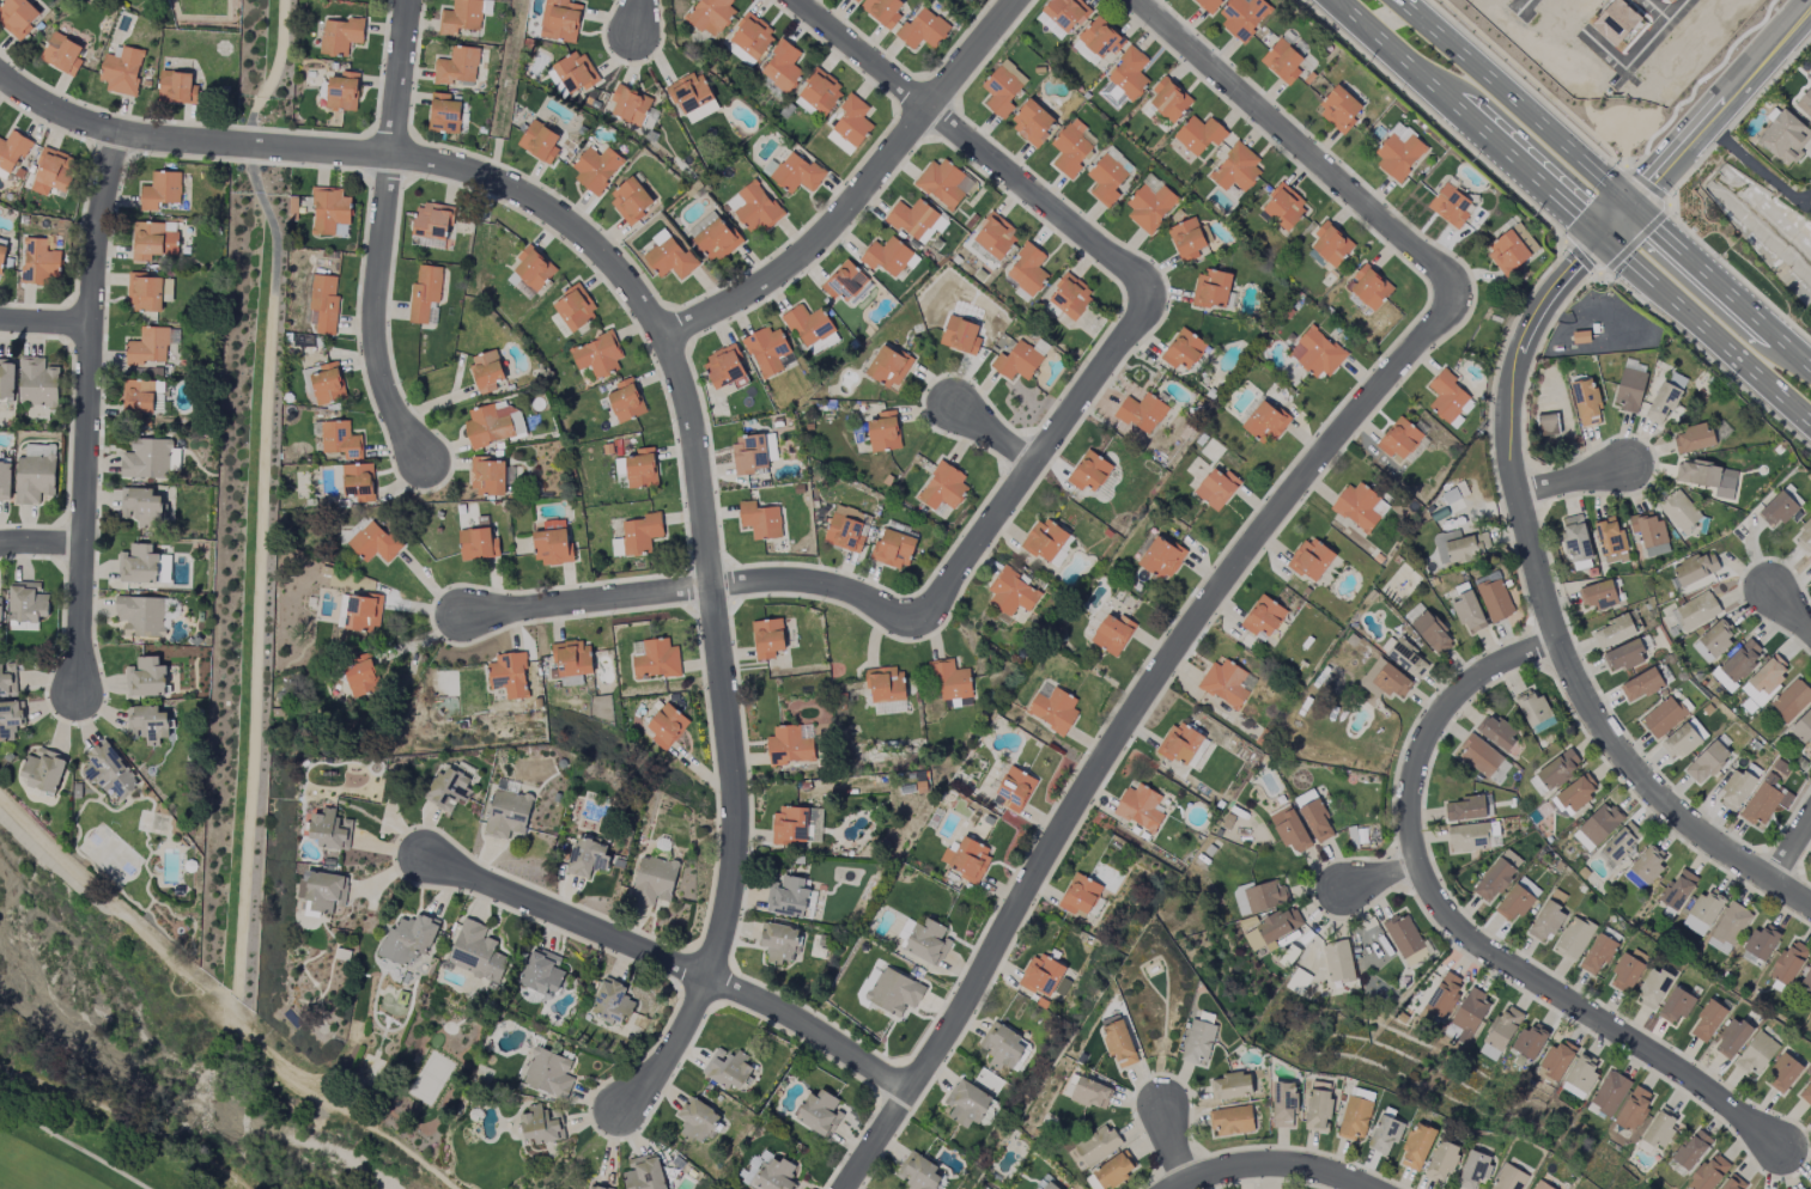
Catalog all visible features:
building: (858, 0)
building: (1208, 5)
building: (883, 11)
building: (1065, 13)
road: (639, 14)
building: (711, 16)
building: (1242, 16)
building: (18, 17)
building: (460, 17)
road: (1664, 19)
building: (560, 20)
building: (922, 30)
building: (340, 36)
building: (752, 36)
building: (1100, 38)
road: (1643, 44)
building: (62, 54)
building: (1282, 62)
building: (456, 66)
building: (782, 66)
road: (512, 68)
building: (122, 71)
building: (575, 73)
building: (1129, 74)
road: (1518, 80)
building: (177, 87)
building: (342, 91)
building: (820, 92)
building: (1002, 92)
building: (689, 93)
building: (1169, 98)
road: (1514, 102)
building: (1805, 102)
building: (630, 105)
building: (1339, 108)
building: (444, 114)
road: (1429, 114)
road: (1467, 118)
building: (852, 121)
building: (1034, 122)
road: (1706, 122)
building: (1400, 132)
building: (1199, 135)
building: (1785, 138)
building: (539, 142)
building: (840, 142)
road: (972, 147)
building: (12, 150)
building: (1071, 151)
building: (1398, 156)
road: (498, 159)
road: (1639, 165)
building: (596, 167)
road: (1757, 169)
building: (1236, 170)
building: (53, 172)
building: (797, 173)
building: (1107, 179)
building: (942, 182)
road: (1647, 184)
building: (160, 190)
road: (859, 193)
building: (631, 200)
building: (1450, 205)
building: (1150, 206)
traffic signals: (1631, 206)
building: (756, 207)
building: (1284, 208)
building: (329, 211)
building: (914, 218)
road: (1670, 218)
building: (432, 221)
park: (1751, 221)
road: (379, 234)
building: (997, 234)
traffic signals: (1602, 238)
building: (152, 240)
building: (717, 240)
building: (1187, 240)
building: (427, 243)
building: (1331, 244)
road: (1637, 245)
building: (1512, 249)
building: (1, 254)
building: (889, 256)
building: (670, 258)
building: (38, 261)
road: (1562, 261)
road: (1582, 261)
building: (533, 269)
building: (1028, 269)
road: (1617, 278)
building: (844, 281)
road: (1744, 281)
building: (521, 286)
road: (1720, 286)
building: (1213, 287)
building: (1369, 287)
building: (148, 292)
building: (424, 292)
building: (1072, 295)
building: (324, 303)
building: (575, 309)
road: (44, 323)
building: (809, 324)
road: (1706, 329)
building: (962, 335)
building: (147, 347)
building: (767, 349)
building: (1184, 349)
building: (1318, 353)
road: (1520, 353)
building: (597, 355)
building: (1019, 361)
road: (1535, 362)
building: (725, 365)
road: (1716, 365)
building: (891, 366)
road: (675, 367)
building: (486, 371)
building: (6, 378)
building: (1677, 380)
building: (37, 383)
building: (327, 384)
building: (1629, 390)
building: (1447, 396)
building: (138, 397)
building: (625, 401)
building: (1663, 402)
road: (429, 406)
road: (87, 411)
building: (1142, 413)
building: (1266, 421)
building: (493, 425)
building: (1548, 425)
building: (886, 432)
road: (998, 432)
road: (1491, 433)
building: (340, 439)
building: (1693, 439)
building: (1399, 440)
building: (771, 447)
building: (750, 453)
road: (1654, 458)
building: (146, 459)
building: (174, 459)
building: (642, 468)
building: (1090, 471)
road: (1539, 475)
building: (487, 476)
building: (1708, 477)
building: (35, 478)
building: (5, 481)
road: (1569, 481)
building: (358, 482)
road: (265, 483)
building: (946, 486)
building: (1217, 487)
road: (1537, 488)
park: (248, 496)
building: (140, 506)
building: (1359, 506)
building: (1777, 510)
building: (1679, 511)
building: (762, 519)
road: (1538, 523)
building: (846, 532)
building: (642, 533)
building: (1649, 533)
building: (1804, 536)
building: (1575, 538)
building: (1609, 538)
building: (1045, 539)
building: (373, 542)
road: (1253, 542)
road: (41, 543)
building: (478, 544)
building: (551, 547)
building: (616, 547)
building: (1460, 547)
building: (894, 548)
building: (1163, 557)
building: (1810, 557)
building: (1312, 559)
building: (138, 565)
building: (164, 567)
building: (1696, 568)
road: (1742, 583)
building: (1013, 592)
building: (1597, 594)
building: (1495, 599)
building: (28, 603)
road: (889, 606)
building: (359, 611)
building: (1696, 611)
building: (1414, 612)
building: (1469, 612)
building: (140, 615)
road: (1791, 615)
building: (0, 616)
building: (1263, 617)
road: (1549, 621)
road: (1536, 623)
building: (1612, 632)
building: (1114, 633)
building: (1433, 633)
building: (768, 638)
building: (1713, 642)
road: (1535, 647)
building: (1624, 656)
building: (1406, 658)
building: (571, 659)
building: (656, 659)
road: (1566, 660)
building: (1742, 660)
building: (509, 675)
building: (360, 676)
road: (1557, 677)
building: (146, 678)
building: (7, 679)
building: (952, 679)
building: (1722, 679)
building: (571, 681)
building: (1385, 681)
building: (1764, 681)
building: (1224, 683)
building: (887, 684)
building: (1641, 685)
building: (1791, 700)
road: (1609, 708)
building: (1056, 709)
building: (1533, 709)
building: (1663, 717)
road: (1420, 718)
building: (11, 719)
building: (147, 725)
building: (666, 725)
building: (1803, 727)
building: (1497, 731)
road: (1608, 739)
building: (1684, 739)
building: (792, 744)
building: (1180, 744)
building: (1479, 756)
building: (1707, 762)
building: (1558, 769)
building: (43, 770)
building: (109, 770)
building: (1016, 788)
building: (448, 789)
building: (1736, 791)
building: (1575, 794)
building: (1305, 798)
building: (1766, 800)
building: (1141, 807)
building: (1464, 809)
building: (508, 813)
road: (1793, 816)
building: (1317, 821)
road: (1661, 823)
building: (791, 825)
building: (1597, 827)
building: (330, 830)
building: (1290, 830)
building: (1469, 837)
building: (1621, 843)
road: (1398, 848)
road: (1791, 848)
road: (1775, 849)
road: (1806, 853)
building: (587, 858)
building: (968, 859)
road: (1780, 864)
building: (1645, 867)
road: (1749, 868)
road: (1399, 871)
building: (1497, 876)
road: (1381, 877)
building: (654, 880)
road: (1426, 882)
road: (1804, 886)
road: (1809, 886)
building: (322, 890)
building: (1677, 890)
road: (1416, 894)
building: (1080, 895)
building: (789, 896)
building: (1265, 896)
road: (1791, 897)
road: (1313, 898)
building: (1518, 900)
building: (1703, 911)
building: (1545, 922)
building: (1728, 927)
building: (1272, 928)
road: (1464, 934)
building: (1574, 938)
building: (408, 939)
building: (778, 941)
building: (1762, 941)
building: (929, 943)
building: (476, 952)
building: (1597, 955)
building: (1338, 961)
road: (676, 963)
building: (1788, 963)
building: (1627, 970)
building: (541, 971)
building: (1043, 975)
building: (1298, 981)
building: (1806, 984)
building: (1653, 988)
building: (895, 992)
building: (1441, 999)
building: (612, 1002)
building: (1676, 1006)
building: (1467, 1016)
building: (1708, 1020)
building: (1500, 1032)
building: (1732, 1038)
building: (1198, 1042)
building: (1530, 1042)
building: (1119, 1043)
building: (1002, 1045)
building: (1757, 1054)
building: (1556, 1060)
building: (728, 1069)
building: (548, 1073)
building: (1783, 1073)
building: (1580, 1075)
road: (1150, 1079)
building: (1230, 1086)
road: (1731, 1090)
building: (1610, 1092)
building: (1805, 1092)
building: (1090, 1093)
building: (968, 1103)
building: (1284, 1103)
building: (1634, 1109)
building: (1318, 1110)
building: (819, 1112)
building: (1354, 1117)
building: (697, 1120)
building: (1232, 1121)
building: (541, 1126)
building: (1658, 1129)
building: (1385, 1135)
road: (1172, 1142)
building: (1096, 1145)
park: (89, 1146)
building: (1417, 1147)
building: (1691, 1148)
road: (1313, 1153)
road: (1175, 1158)
road: (1210, 1158)
building: (1442, 1161)
road: (1269, 1164)
building: (1475, 1169)
building: (1114, 1170)
building: (767, 1172)
building: (918, 1172)
building: (1709, 1172)
building: (644, 1173)
road: (1211, 1173)
building: (1512, 1178)
road: (1270, 1182)
road: (1156, 1183)
building: (1734, 1183)
building: (1045, 1184)
road: (1160, 1185)
building: (1542, 1185)
building: (597, 1187)
road: (1147, 1187)

